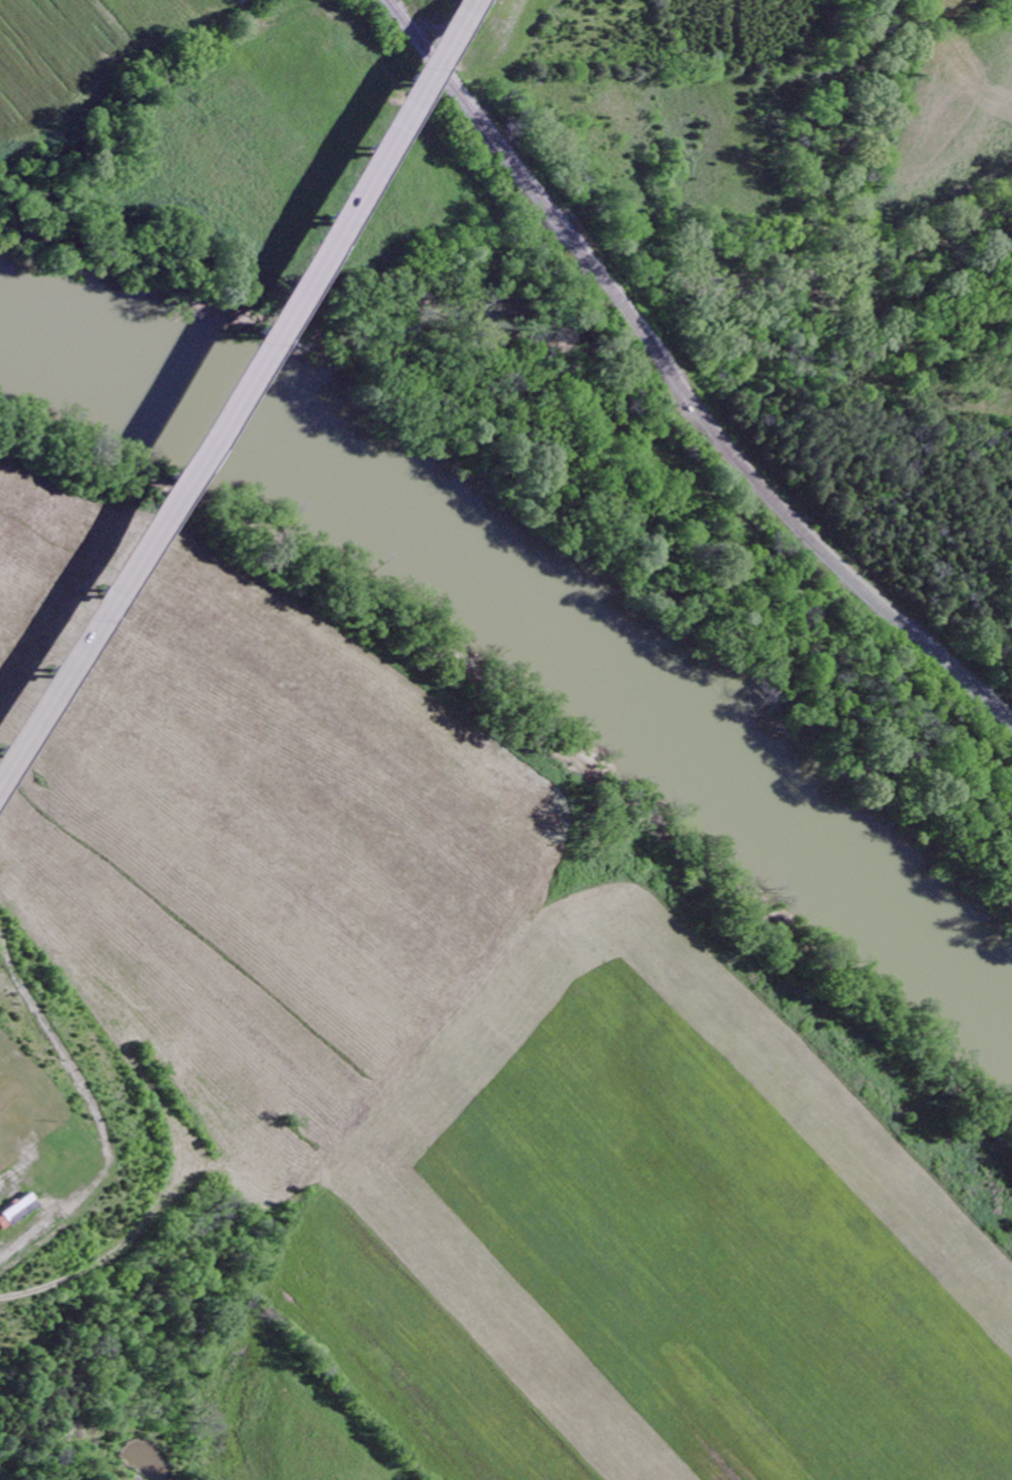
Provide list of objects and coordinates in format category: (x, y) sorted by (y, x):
road: (466, 6)
railway: (674, 381)
road: (231, 391)
road: (975, 536)
river: (542, 592)
building: (17, 1212)

